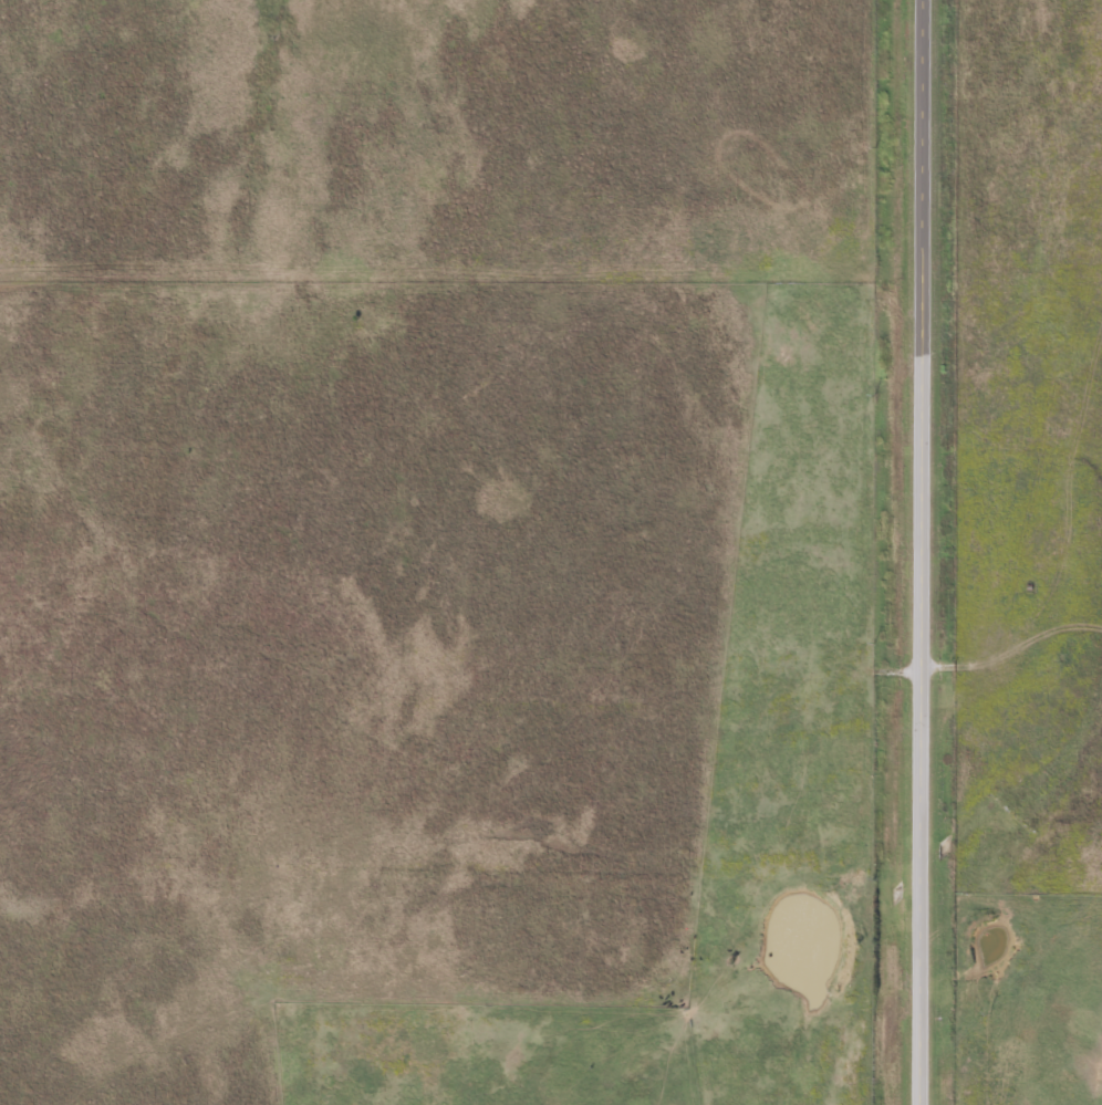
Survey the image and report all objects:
road: (921, 552)
road: (1012, 656)

